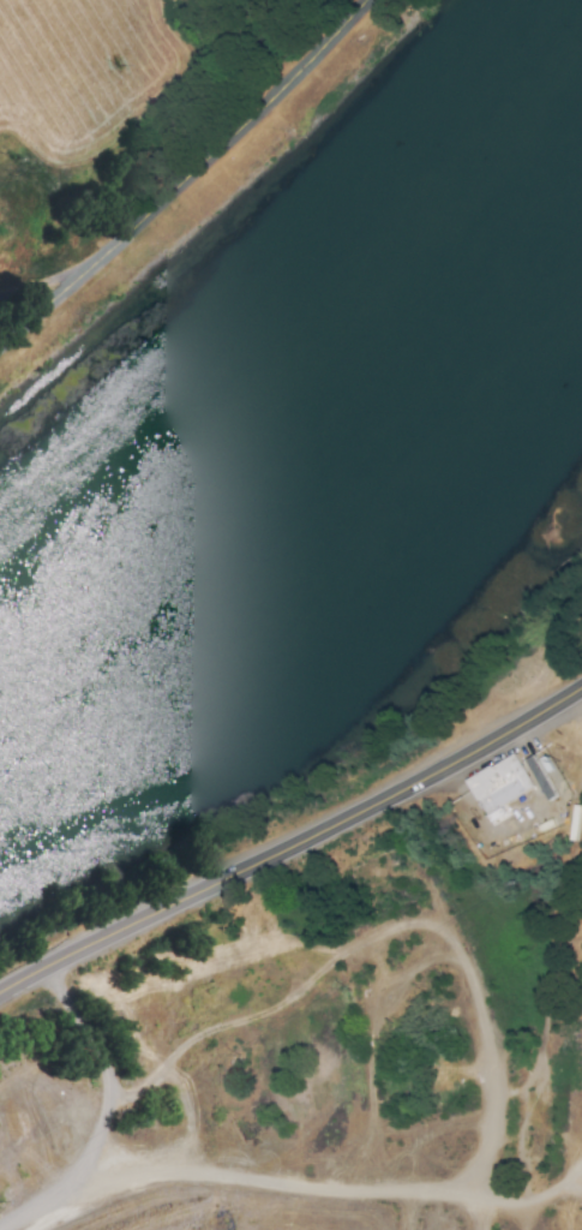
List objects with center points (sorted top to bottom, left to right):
crop: (118, 124)
road: (191, 179)
river: (301, 402)
building: (511, 783)
road: (293, 846)
road: (492, 1074)
road: (106, 1113)
road: (341, 1189)
road: (413, 1213)
road: (488, 1217)

